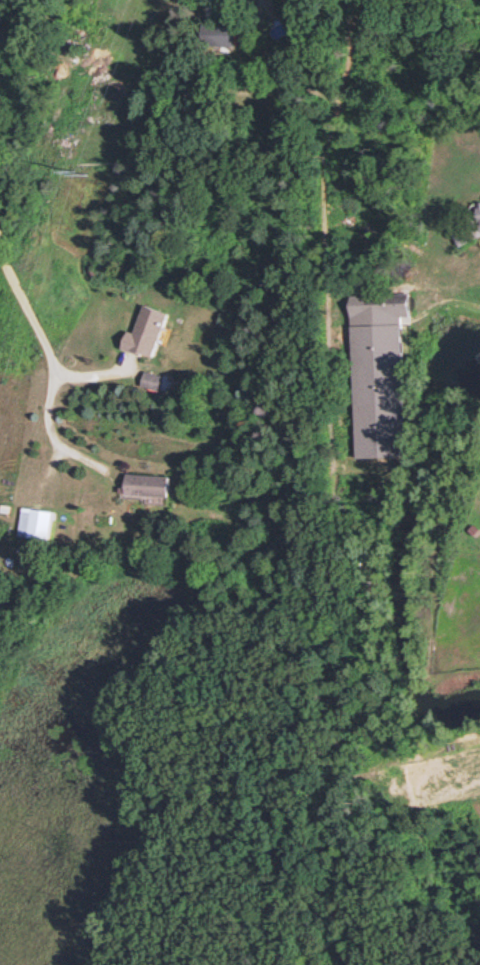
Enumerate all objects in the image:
building: (223, 35)
power tower: (83, 160)
building: (479, 215)
building: (148, 330)
road: (44, 344)
building: (380, 373)
building: (152, 379)
building: (148, 484)
building: (37, 522)

